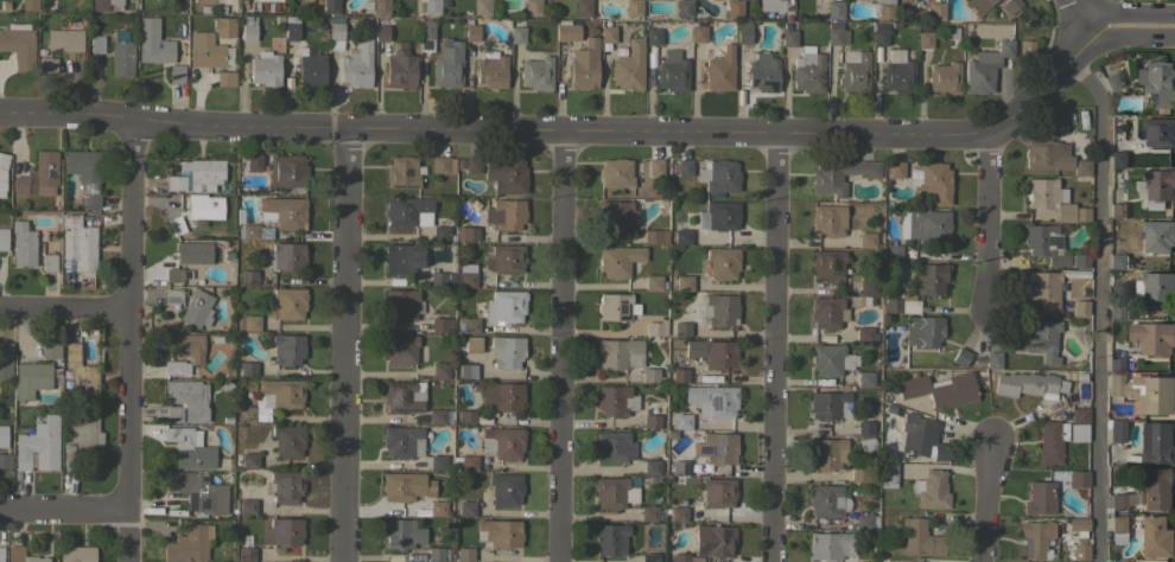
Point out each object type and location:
building: (268, 0)
building: (28, 5)
building: (106, 5)
building: (774, 5)
building: (1010, 5)
building: (331, 6)
building: (977, 6)
building: (381, 7)
building: (431, 7)
building: (482, 7)
building: (532, 7)
building: (583, 7)
building: (633, 7)
building: (684, 8)
building: (733, 8)
building: (834, 9)
building: (884, 9)
building: (935, 12)
road: (1075, 15)
building: (224, 27)
building: (426, 30)
building: (471, 30)
building: (291, 31)
building: (566, 31)
building: (248, 32)
building: (697, 32)
building: (743, 32)
building: (335, 33)
building: (381, 33)
building: (516, 33)
building: (608, 33)
building: (836, 34)
building: (878, 34)
building: (653, 37)
building: (788, 38)
building: (64, 40)
building: (925, 40)
building: (153, 41)
building: (19, 44)
building: (96, 44)
building: (1027, 46)
building: (207, 51)
building: (121, 55)
building: (46, 64)
building: (357, 64)
building: (447, 64)
building: (584, 65)
building: (310, 66)
building: (628, 66)
building: (719, 68)
building: (985, 68)
building: (265, 69)
building: (400, 69)
building: (490, 70)
building: (808, 70)
building: (536, 71)
building: (672, 71)
building: (853, 71)
building: (762, 72)
building: (176, 74)
building: (898, 76)
building: (226, 78)
building: (944, 78)
building: (1112, 79)
building: (1158, 83)
building: (1160, 133)
road: (611, 134)
building: (1047, 154)
building: (1118, 159)
building: (253, 162)
building: (443, 165)
building: (472, 165)
building: (654, 167)
building: (684, 167)
building: (1081, 167)
building: (895, 170)
building: (287, 171)
building: (2, 172)
building: (203, 173)
building: (401, 173)
building: (616, 173)
building: (84, 174)
building: (506, 174)
building: (840, 174)
building: (38, 175)
building: (718, 175)
building: (932, 181)
building: (174, 183)
building: (1156, 189)
building: (1052, 199)
building: (205, 207)
building: (1117, 210)
building: (408, 211)
building: (282, 212)
building: (506, 215)
building: (616, 216)
building: (718, 216)
building: (827, 219)
building: (174, 224)
building: (923, 224)
road: (991, 226)
building: (1124, 230)
building: (253, 231)
building: (440, 232)
building: (466, 234)
building: (654, 236)
building: (681, 236)
building: (1158, 236)
building: (2, 238)
building: (866, 240)
building: (78, 242)
rooftop solar panel: (1056, 242)
building: (23, 243)
building: (1050, 247)
building: (891, 251)
building: (193, 253)
building: (285, 256)
building: (402, 258)
building: (504, 258)
building: (618, 260)
building: (1117, 261)
building: (49, 262)
building: (722, 262)
building: (827, 263)
building: (173, 275)
building: (466, 275)
building: (248, 276)
building: (437, 277)
building: (929, 277)
building: (653, 282)
building: (684, 282)
building: (869, 286)
building: (1155, 287)
building: (1043, 288)
building: (172, 295)
road: (1098, 301)
building: (287, 304)
building: (400, 304)
building: (901, 304)
building: (504, 306)
building: (615, 306)
building: (1080, 306)
road: (62, 308)
building: (196, 308)
building: (718, 308)
rooftop solar panel: (621, 312)
building: (825, 312)
building: (1117, 313)
building: (249, 322)
building: (442, 325)
building: (466, 325)
building: (655, 327)
building: (681, 328)
building: (923, 331)
building: (864, 333)
building: (1042, 338)
building: (1152, 338)
road: (123, 340)
building: (472, 344)
building: (185, 346)
road: (343, 347)
road: (560, 347)
building: (287, 349)
building: (400, 349)
building: (50, 350)
road: (775, 350)
building: (506, 351)
building: (712, 352)
building: (618, 353)
building: (960, 356)
building: (5, 359)
building: (830, 359)
building: (992, 359)
building: (1116, 363)
building: (173, 368)
building: (248, 369)
building: (440, 371)
building: (468, 371)
building: (81, 375)
building: (649, 375)
building: (679, 375)
building: (31, 378)
building: (865, 378)
building: (1027, 383)
rooftop solar panel: (400, 384)
building: (939, 389)
building: (1145, 391)
building: (280, 392)
building: (501, 395)
building: (402, 396)
rooftop solar panel: (407, 396)
building: (188, 398)
rooftop solar panel: (392, 398)
building: (615, 400)
building: (712, 400)
building: (826, 404)
rooftop solar panel: (405, 409)
building: (172, 414)
building: (247, 414)
building: (436, 416)
building: (466, 416)
building: (652, 421)
building: (682, 421)
building: (1078, 424)
building: (864, 428)
building: (1118, 432)
building: (915, 434)
building: (4, 435)
building: (81, 439)
building: (287, 440)
building: (402, 441)
building: (1050, 441)
building: (503, 442)
building: (1157, 443)
building: (38, 445)
building: (614, 446)
building: (189, 448)
building: (716, 448)
building: (939, 451)
building: (826, 454)
building: (5, 460)
building: (249, 460)
building: (465, 461)
building: (438, 462)
building: (652, 467)
building: (680, 467)
building: (862, 474)
building: (888, 475)
building: (1078, 478)
building: (284, 486)
building: (401, 486)
building: (504, 488)
building: (931, 490)
building: (1158, 490)
building: (198, 492)
building: (614, 492)
building: (717, 492)
building: (1040, 498)
building: (825, 500)
building: (1119, 502)
road: (982, 504)
building: (247, 506)
building: (437, 507)
building: (465, 507)
road: (61, 510)
building: (648, 513)
building: (678, 513)
building: (865, 522)
building: (1118, 529)
building: (282, 531)
building: (500, 532)
building: (401, 534)
building: (919, 537)
building: (1034, 537)
building: (1079, 537)
building: (1157, 537)
building: (611, 538)
building: (713, 539)
building: (188, 544)
building: (830, 545)
rooftop solar panel: (1027, 548)
building: (1, 554)
building: (76, 554)
building: (244, 554)
building: (434, 554)
building: (464, 554)
building: (21, 555)
building: (649, 557)
building: (680, 557)
building: (691, 558)
rooftop solar panel: (655, 560)
rooftop solar panel: (647, 561)
building: (1113, 561)

